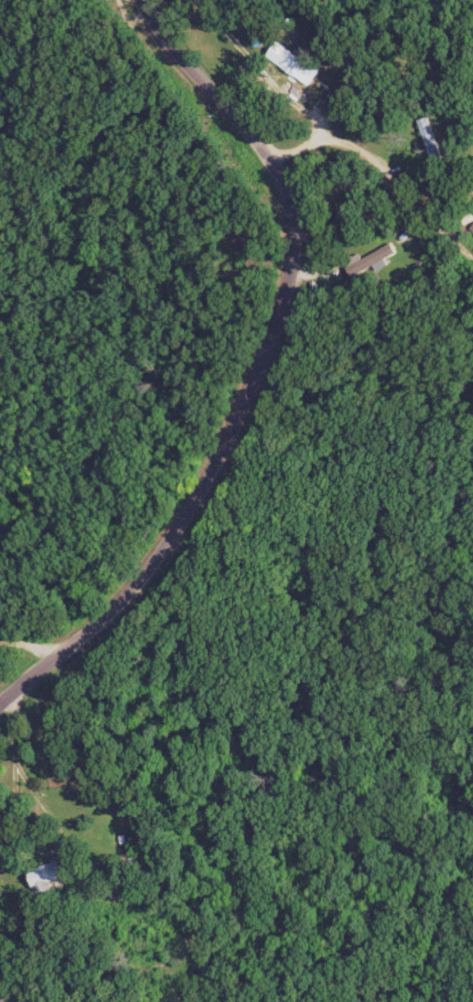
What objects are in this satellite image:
building: (303, 68)
road: (386, 202)
building: (372, 259)
road: (290, 387)
road: (38, 647)
building: (50, 877)

